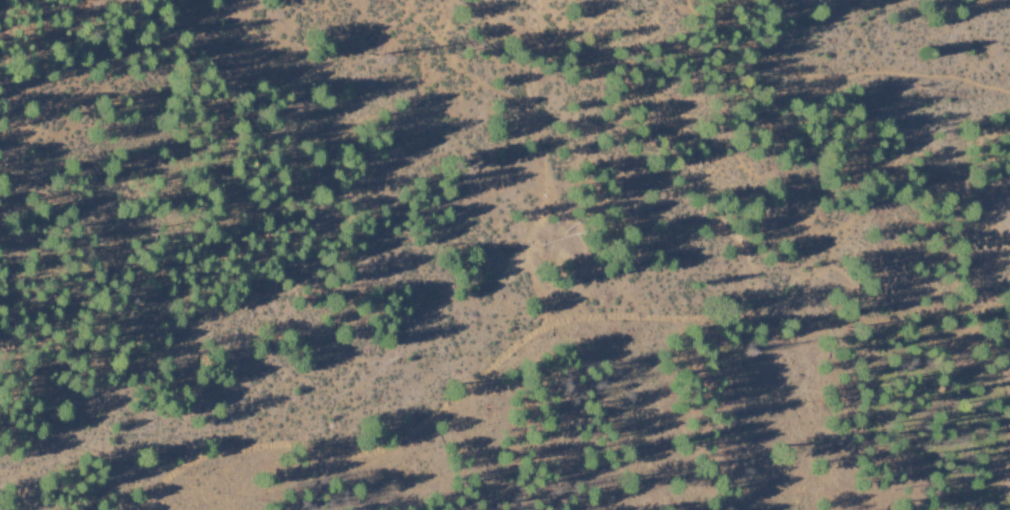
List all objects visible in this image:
road: (28, 9)
road: (376, 448)

